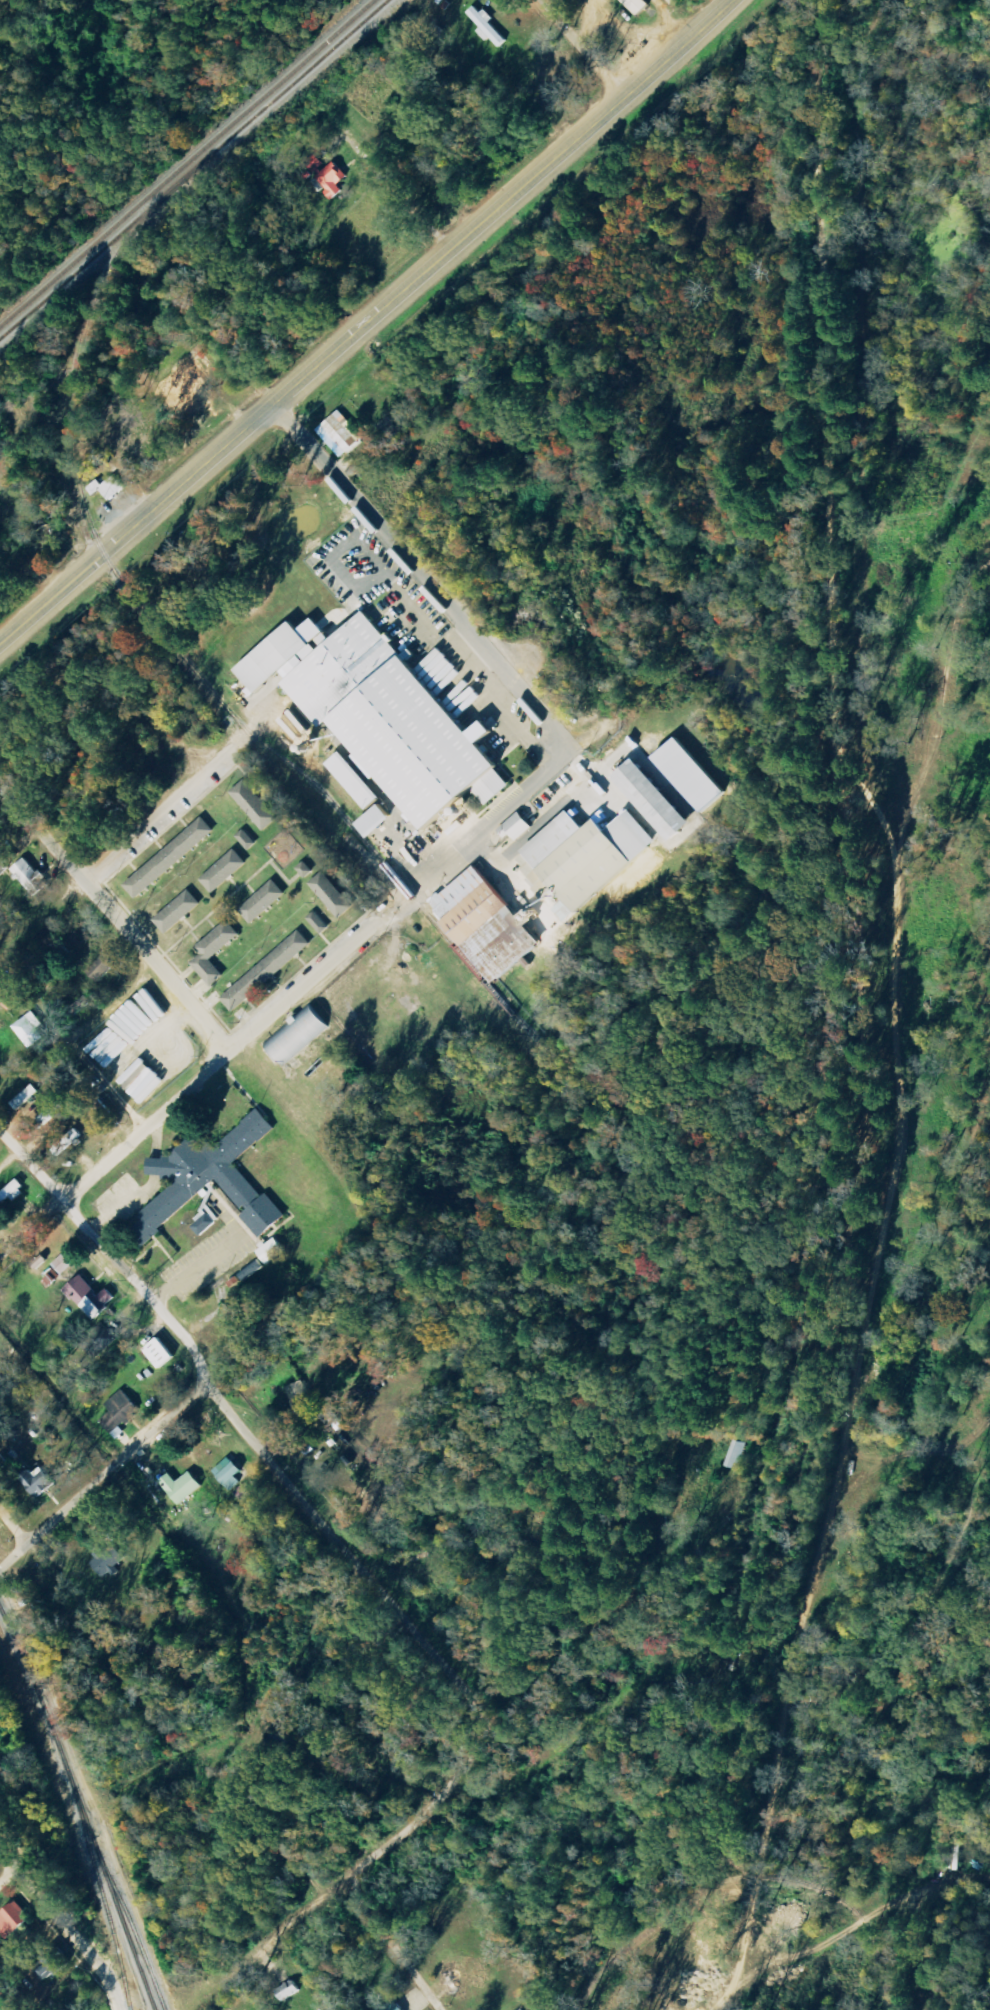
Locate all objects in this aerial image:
building: (637, 5)
building: (487, 26)
road: (581, 49)
railway: (187, 162)
railway: (194, 167)
building: (328, 175)
road: (364, 322)
building: (340, 433)
building: (107, 487)
road: (424, 577)
railway: (152, 620)
building: (383, 713)
railway: (258, 747)
building: (691, 774)
building: (358, 780)
building: (653, 799)
building: (255, 805)
road: (160, 819)
building: (377, 820)
building: (517, 826)
road: (478, 834)
building: (247, 839)
building: (584, 857)
building: (170, 858)
building: (306, 869)
building: (225, 871)
building: (30, 876)
building: (333, 894)
building: (263, 901)
building: (178, 912)
road: (115, 917)
building: (319, 923)
building: (486, 924)
building: (214, 952)
building: (101, 969)
building: (267, 971)
building: (30, 1029)
building: (297, 1035)
building: (126, 1064)
road: (189, 1087)
building: (26, 1097)
building: (67, 1142)
building: (206, 1179)
building: (12, 1192)
building: (205, 1221)
building: (271, 1250)
building: (63, 1264)
building: (246, 1275)
building: (90, 1297)
building: (100, 1340)
building: (160, 1353)
building: (300, 1393)
building: (121, 1413)
road: (246, 1435)
building: (737, 1454)
building: (229, 1473)
road: (103, 1475)
building: (39, 1482)
building: (182, 1487)
building: (243, 1493)
road: (12, 1527)
building: (109, 1562)
building: (0, 1719)
road: (507, 1730)
railway: (81, 1807)
road: (7, 1875)
railway: (748, 1875)
railway: (100, 1890)
building: (13, 1920)
railway: (129, 1923)
road: (64, 1927)
road: (392, 1944)
building: (50, 1968)
building: (394, 2006)

